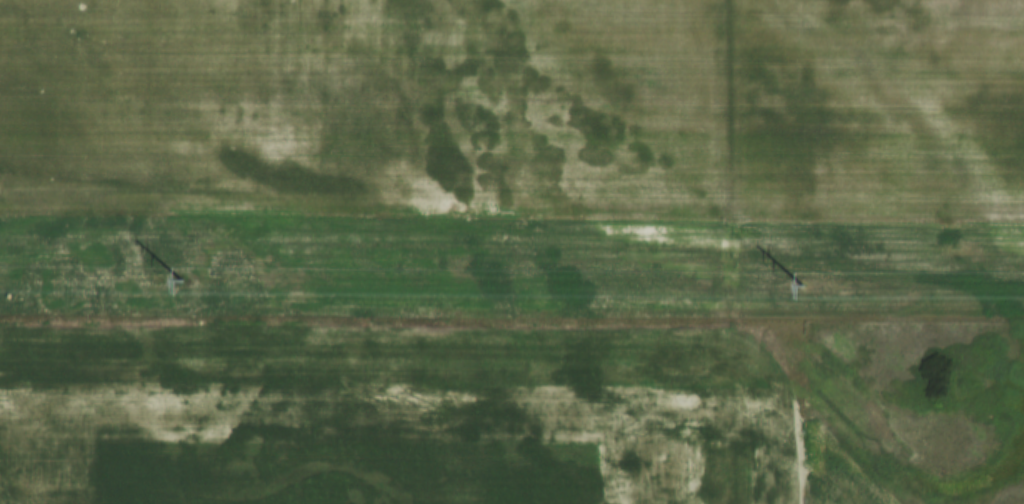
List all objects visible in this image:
power tower: (180, 279)
power tower: (803, 283)

